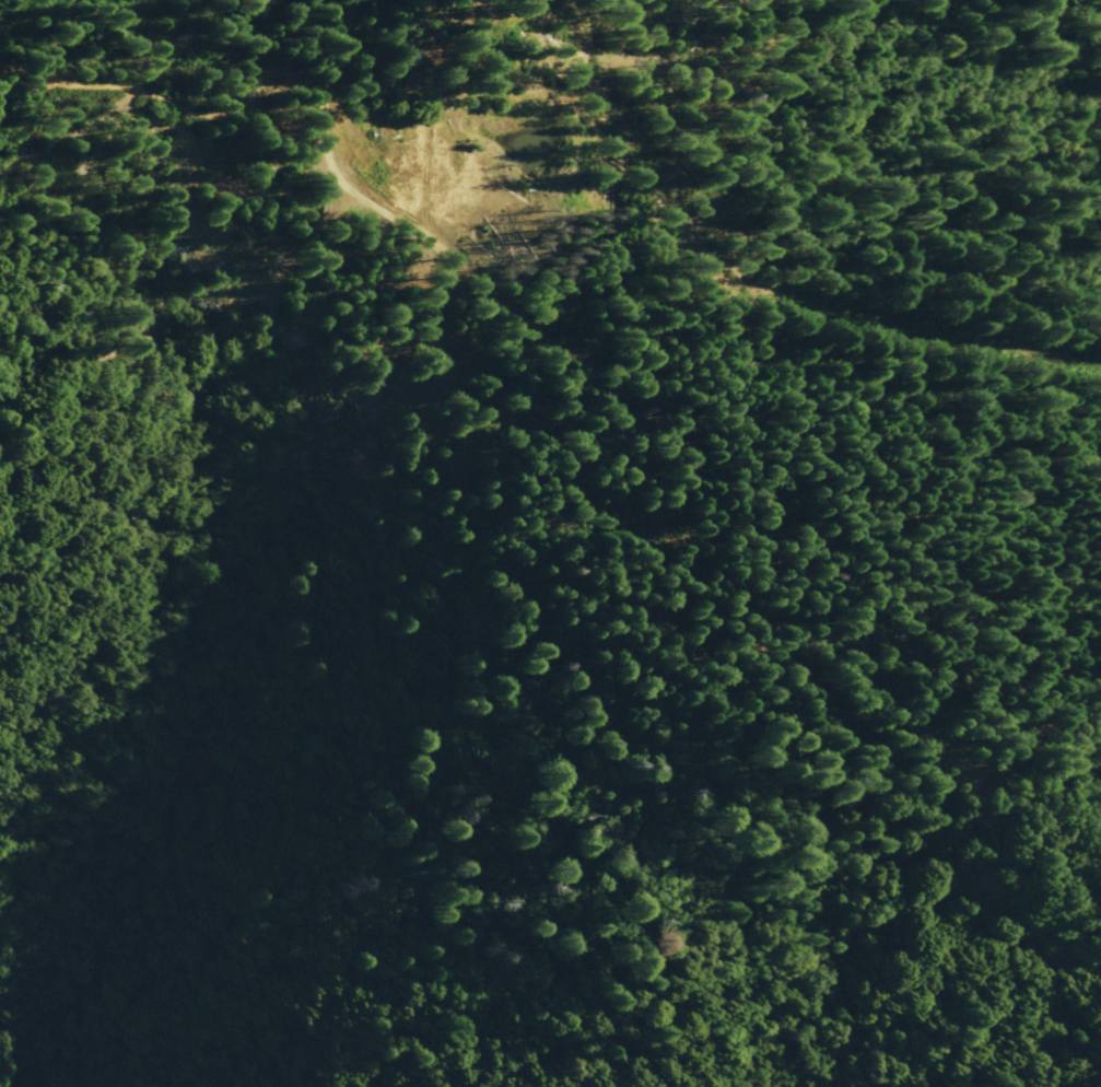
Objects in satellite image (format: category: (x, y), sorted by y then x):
road: (32, 86)
road: (108, 410)
park: (554, 445)
road: (670, 515)

